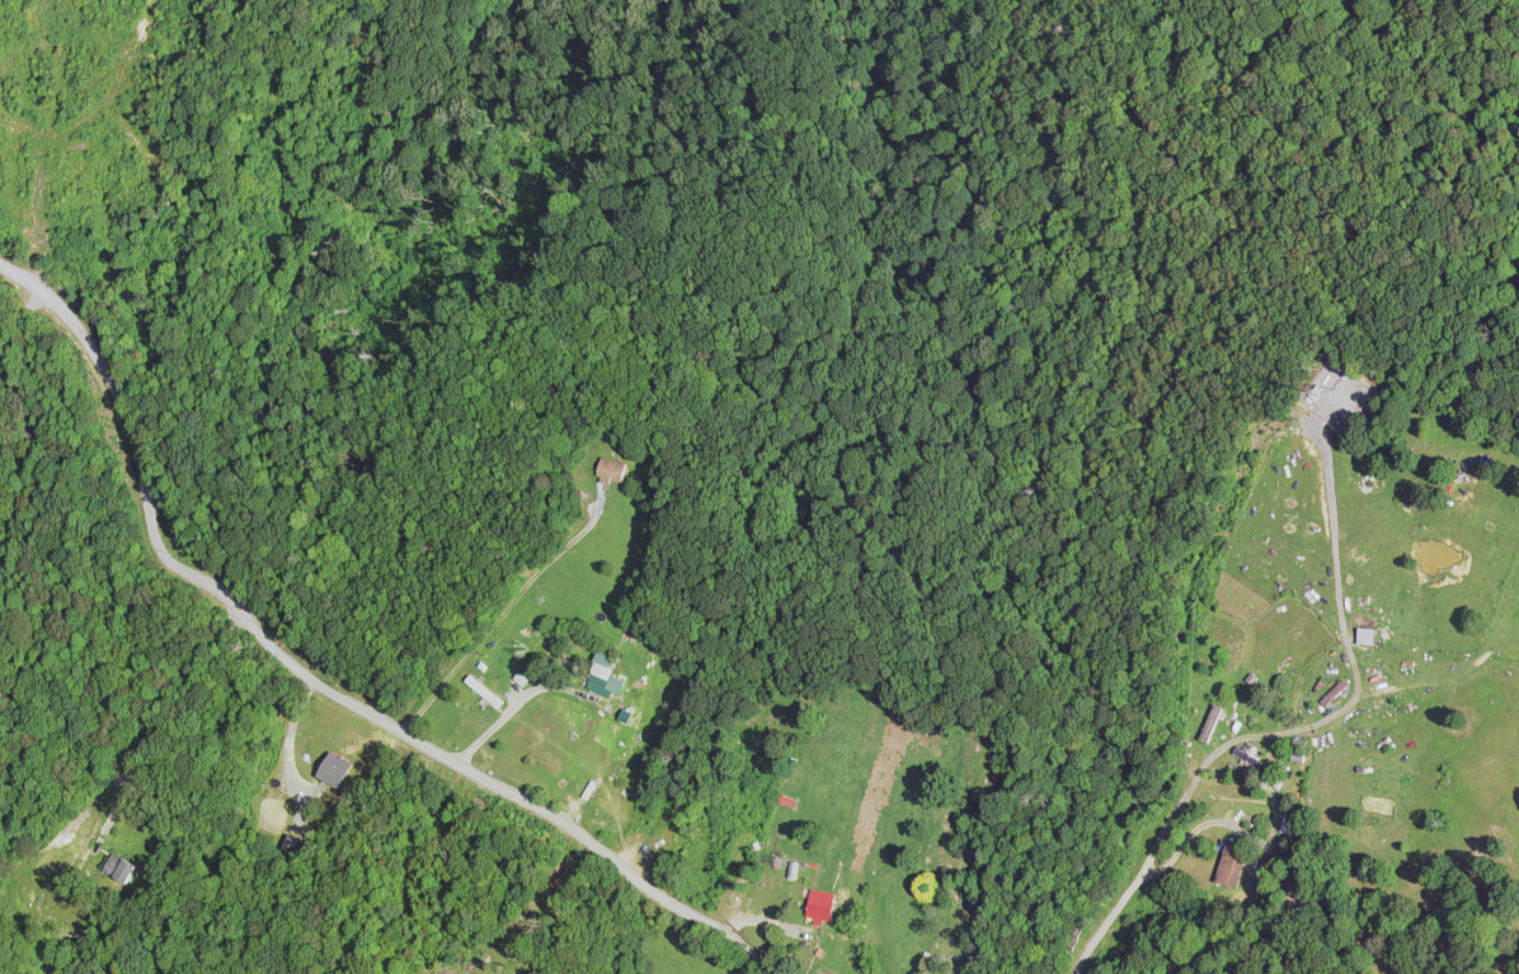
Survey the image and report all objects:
road: (25, 308)
building: (608, 472)
building: (1363, 638)
building: (597, 675)
road: (312, 679)
building: (481, 693)
building: (1332, 694)
building: (1209, 725)
road: (1305, 726)
building: (331, 771)
building: (262, 794)
road: (104, 797)
building: (1288, 832)
building: (1229, 869)
building: (117, 870)
building: (818, 907)

